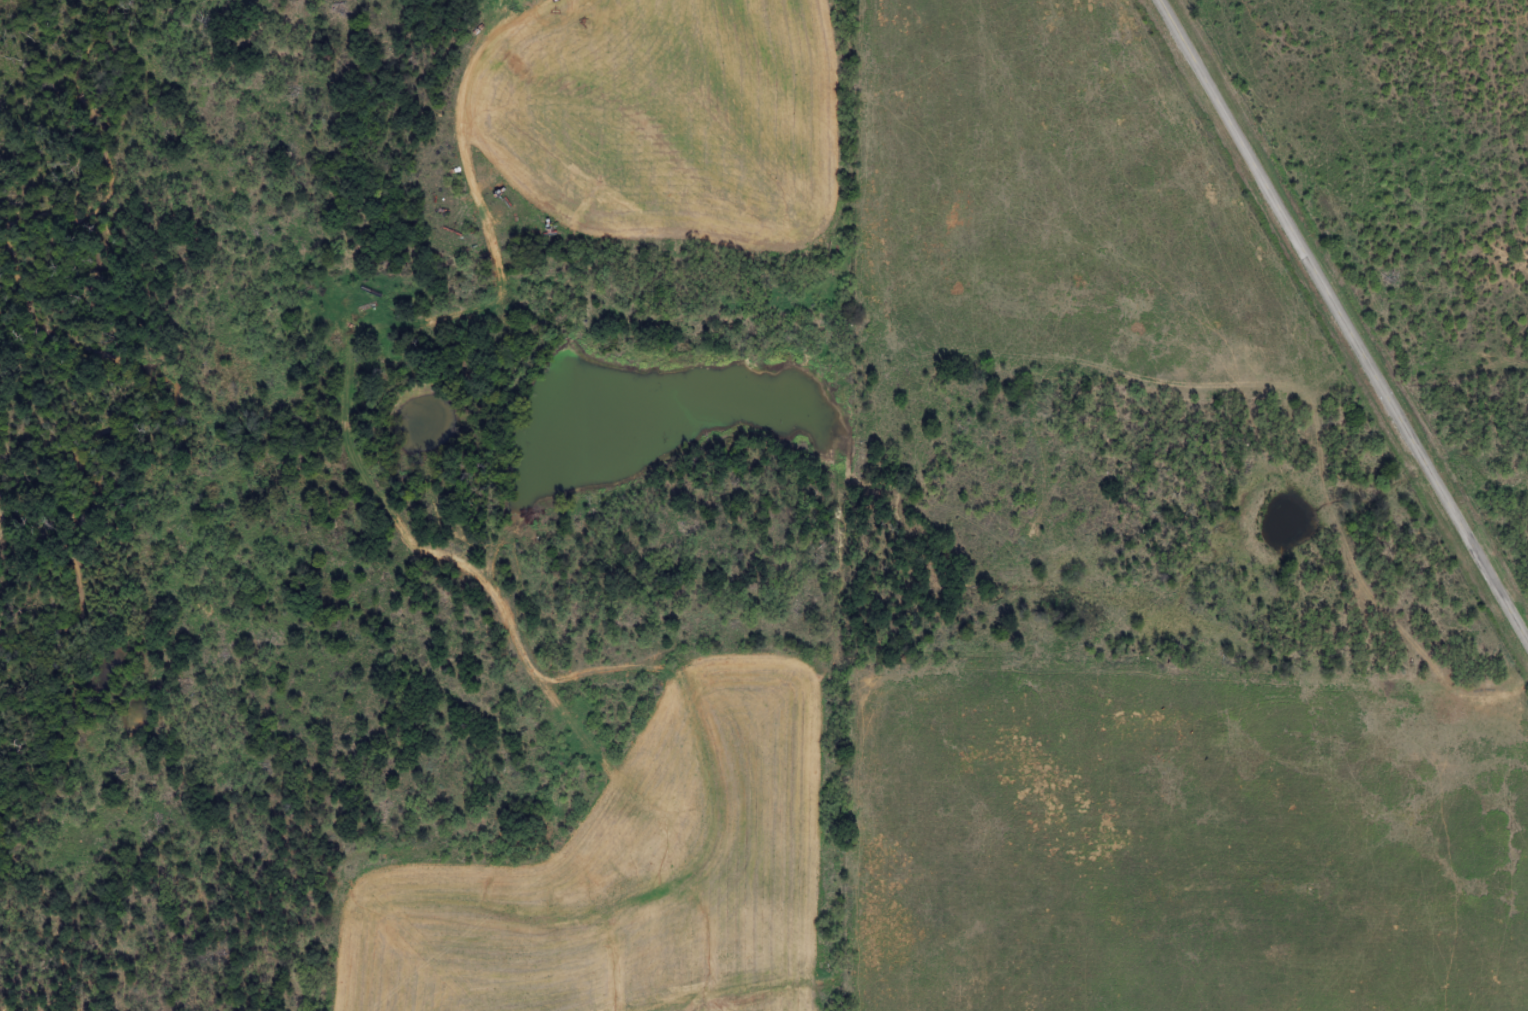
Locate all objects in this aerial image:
road: (1345, 318)

